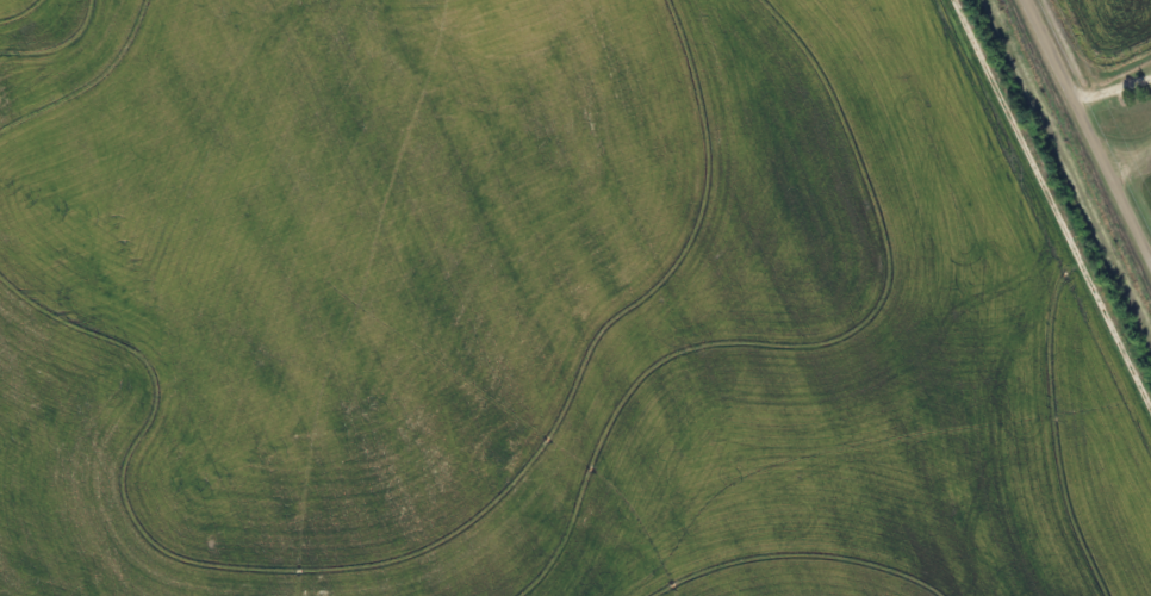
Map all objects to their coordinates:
road: (1112, 86)
road: (1088, 130)

